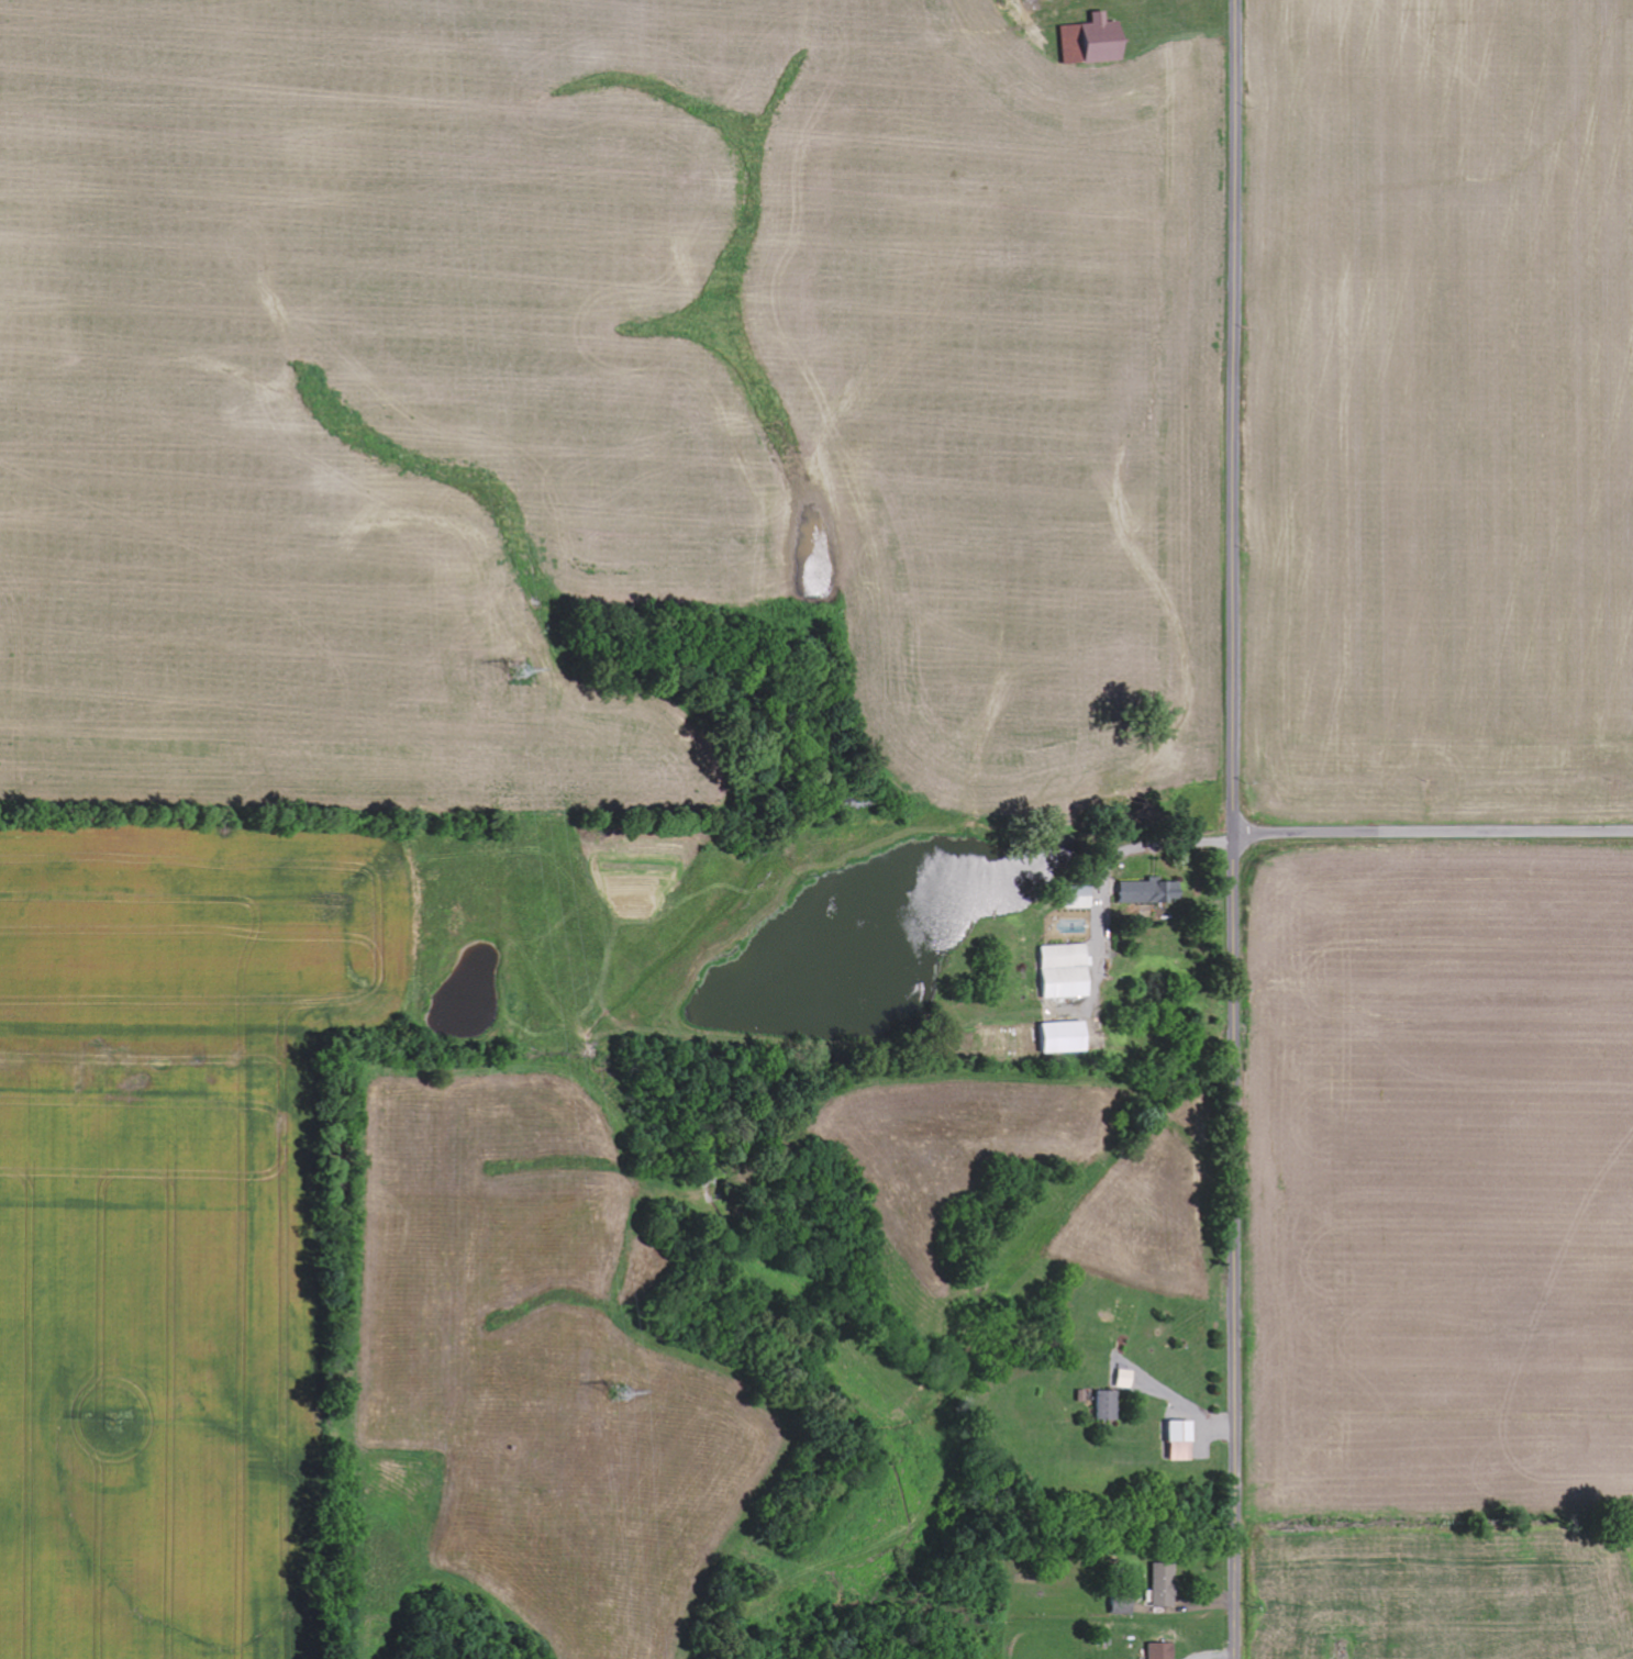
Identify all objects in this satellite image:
power tower: (519, 669)
road: (1234, 828)
road: (1433, 833)
building: (1140, 893)
building: (1053, 1037)
power tower: (623, 1398)
building: (1099, 1406)
building: (1171, 1441)
building: (1155, 1590)

